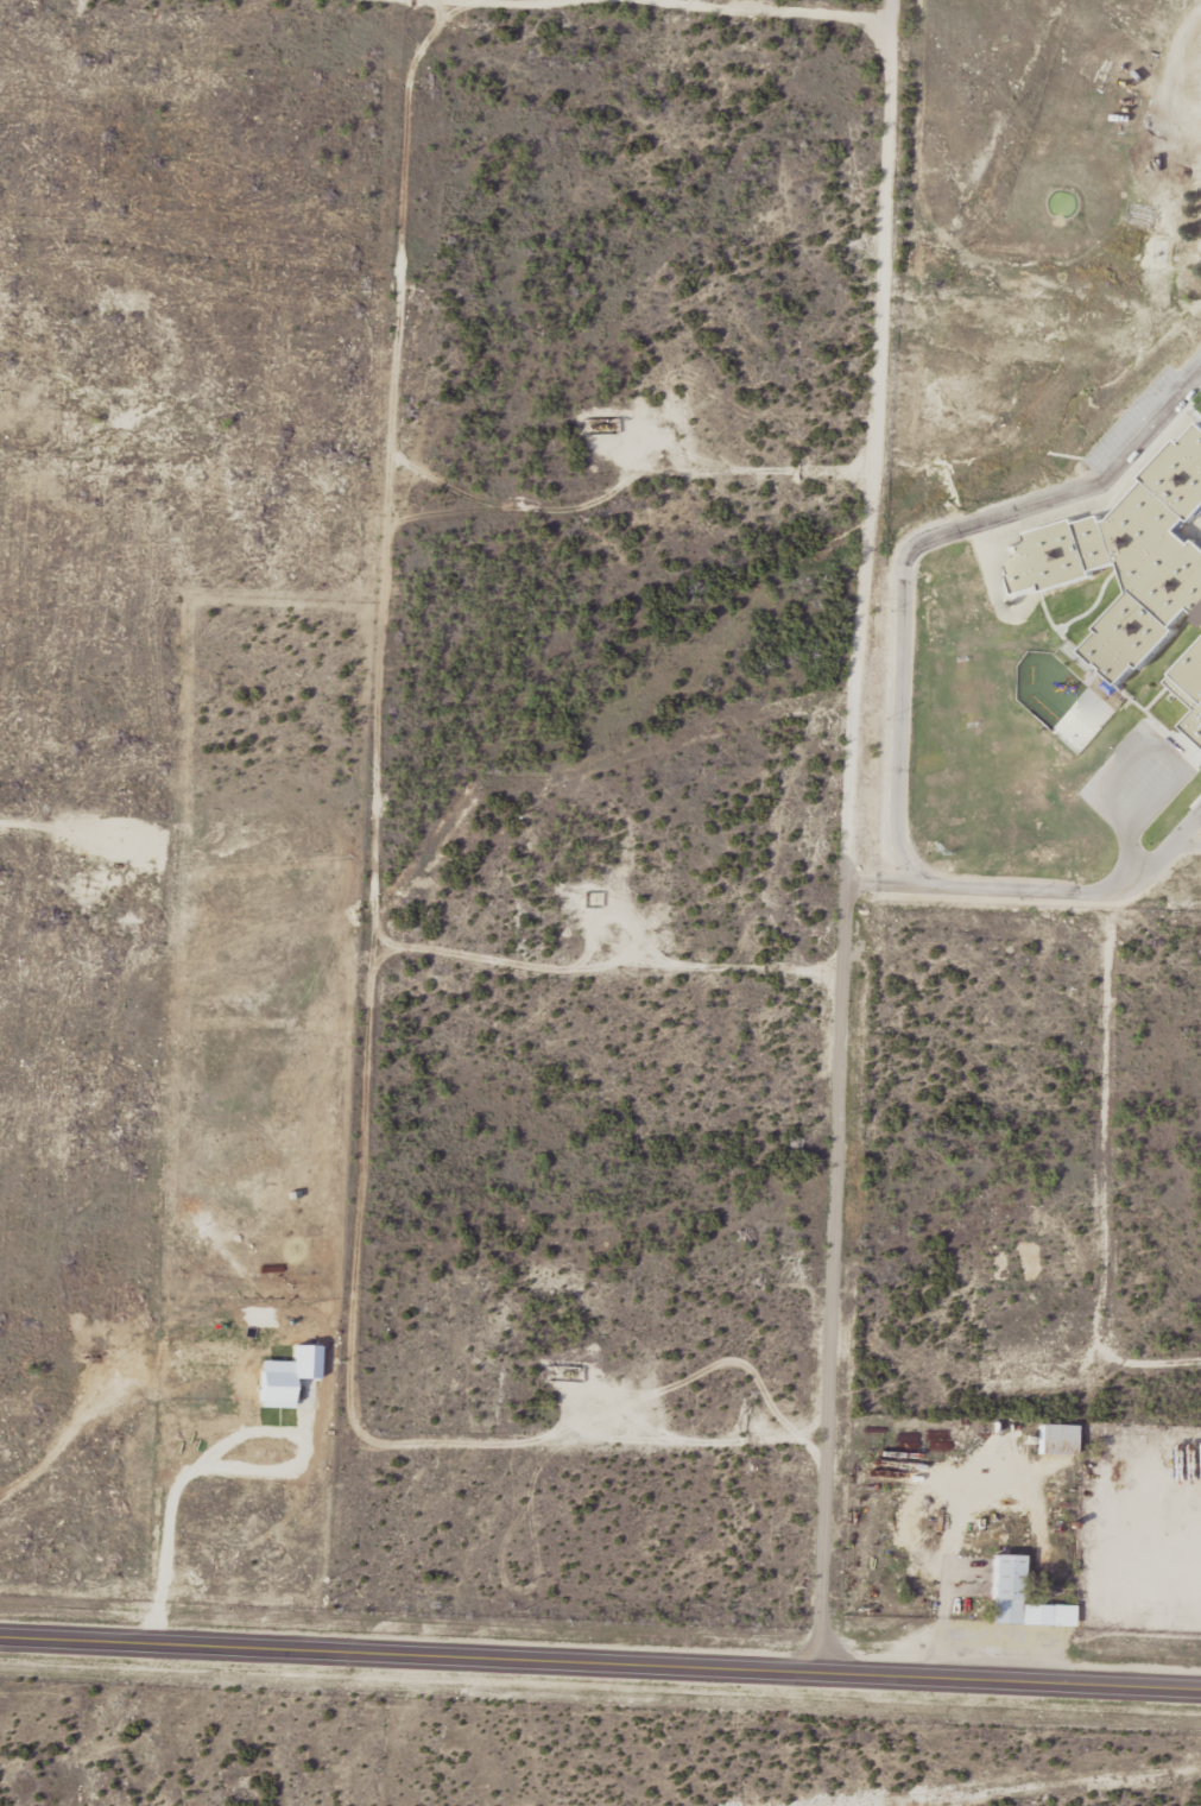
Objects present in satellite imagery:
road: (899, 693)
road: (864, 840)
road: (1187, 846)
road: (897, 883)
building: (1057, 1439)
road: (221, 1451)
building: (1011, 1593)
road: (600, 1668)

